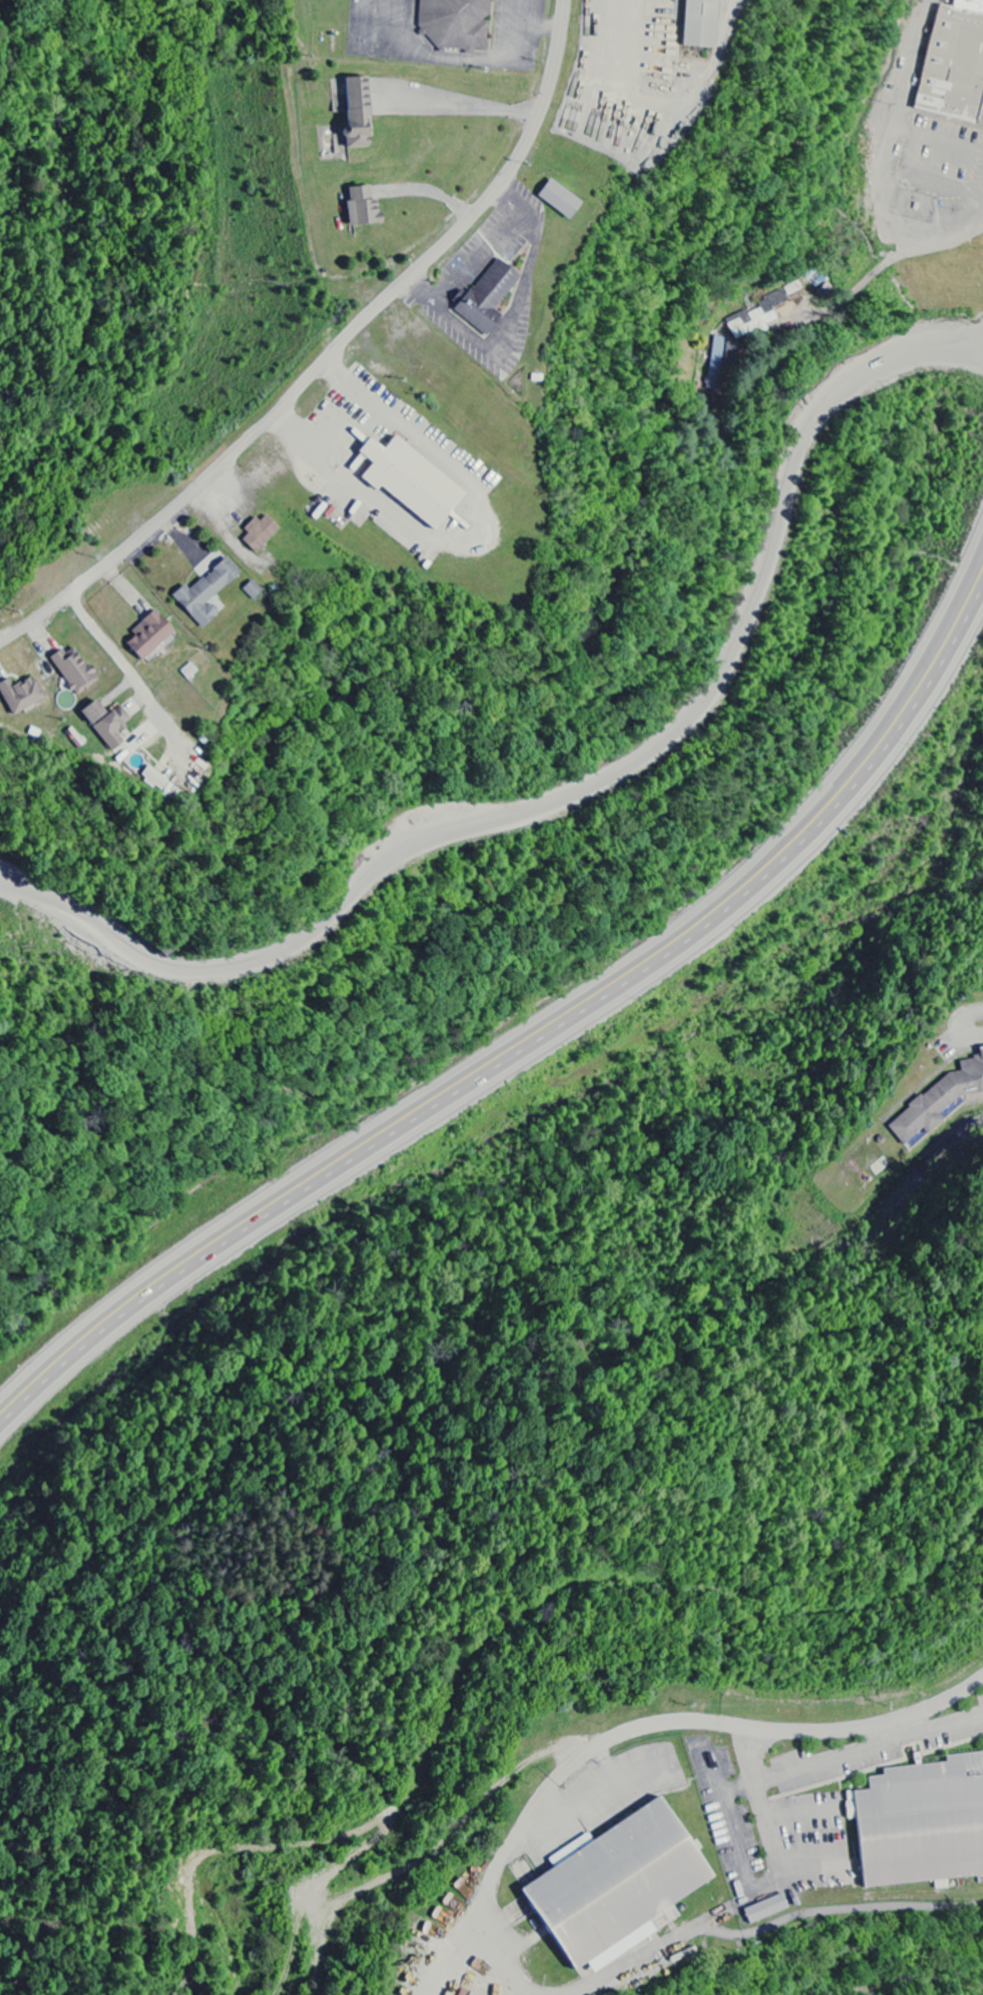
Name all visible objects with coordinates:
building: (701, 23)
building: (455, 24)
building: (961, 67)
building: (357, 112)
building: (560, 199)
building: (363, 207)
building: (488, 297)
building: (757, 317)
road: (332, 356)
building: (411, 482)
building: (260, 533)
road: (974, 576)
building: (253, 590)
building: (206, 593)
building: (149, 636)
building: (74, 671)
building: (189, 672)
building: (20, 695)
building: (106, 724)
building: (154, 779)
road: (520, 1042)
building: (942, 1101)
road: (716, 1721)
road: (879, 1729)
building: (921, 1823)
building: (614, 1886)
building: (766, 1909)

